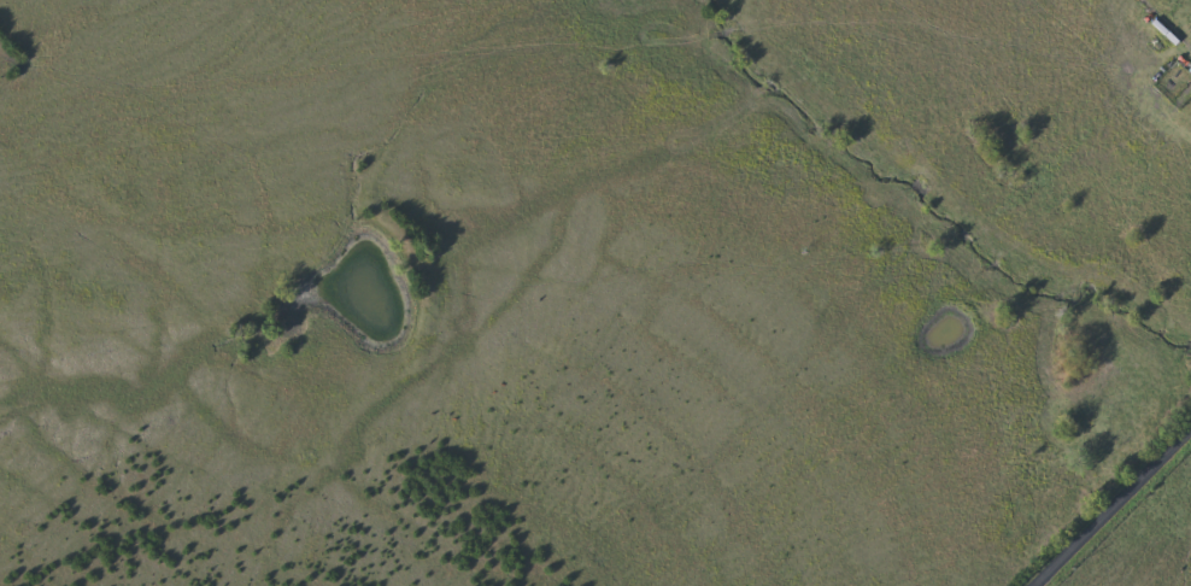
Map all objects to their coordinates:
road: (1111, 504)

